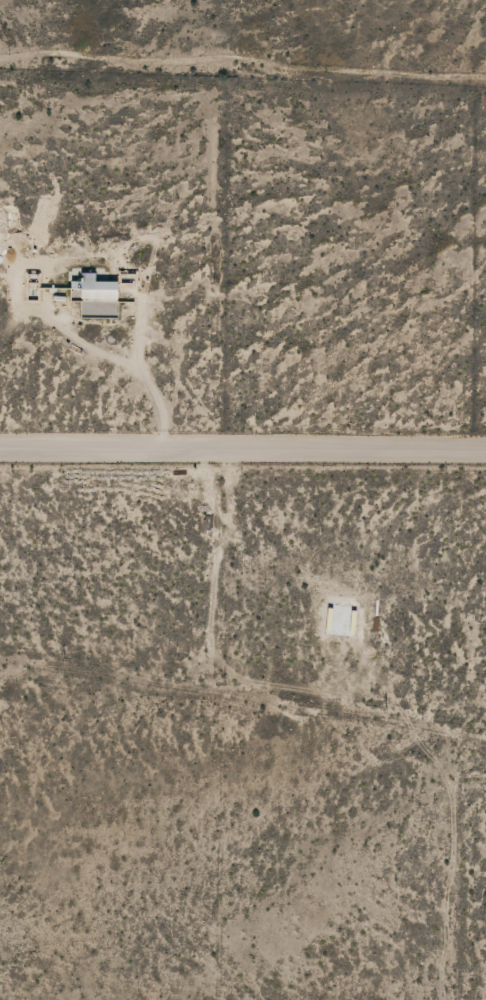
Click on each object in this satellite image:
building: (99, 289)
road: (242, 458)

